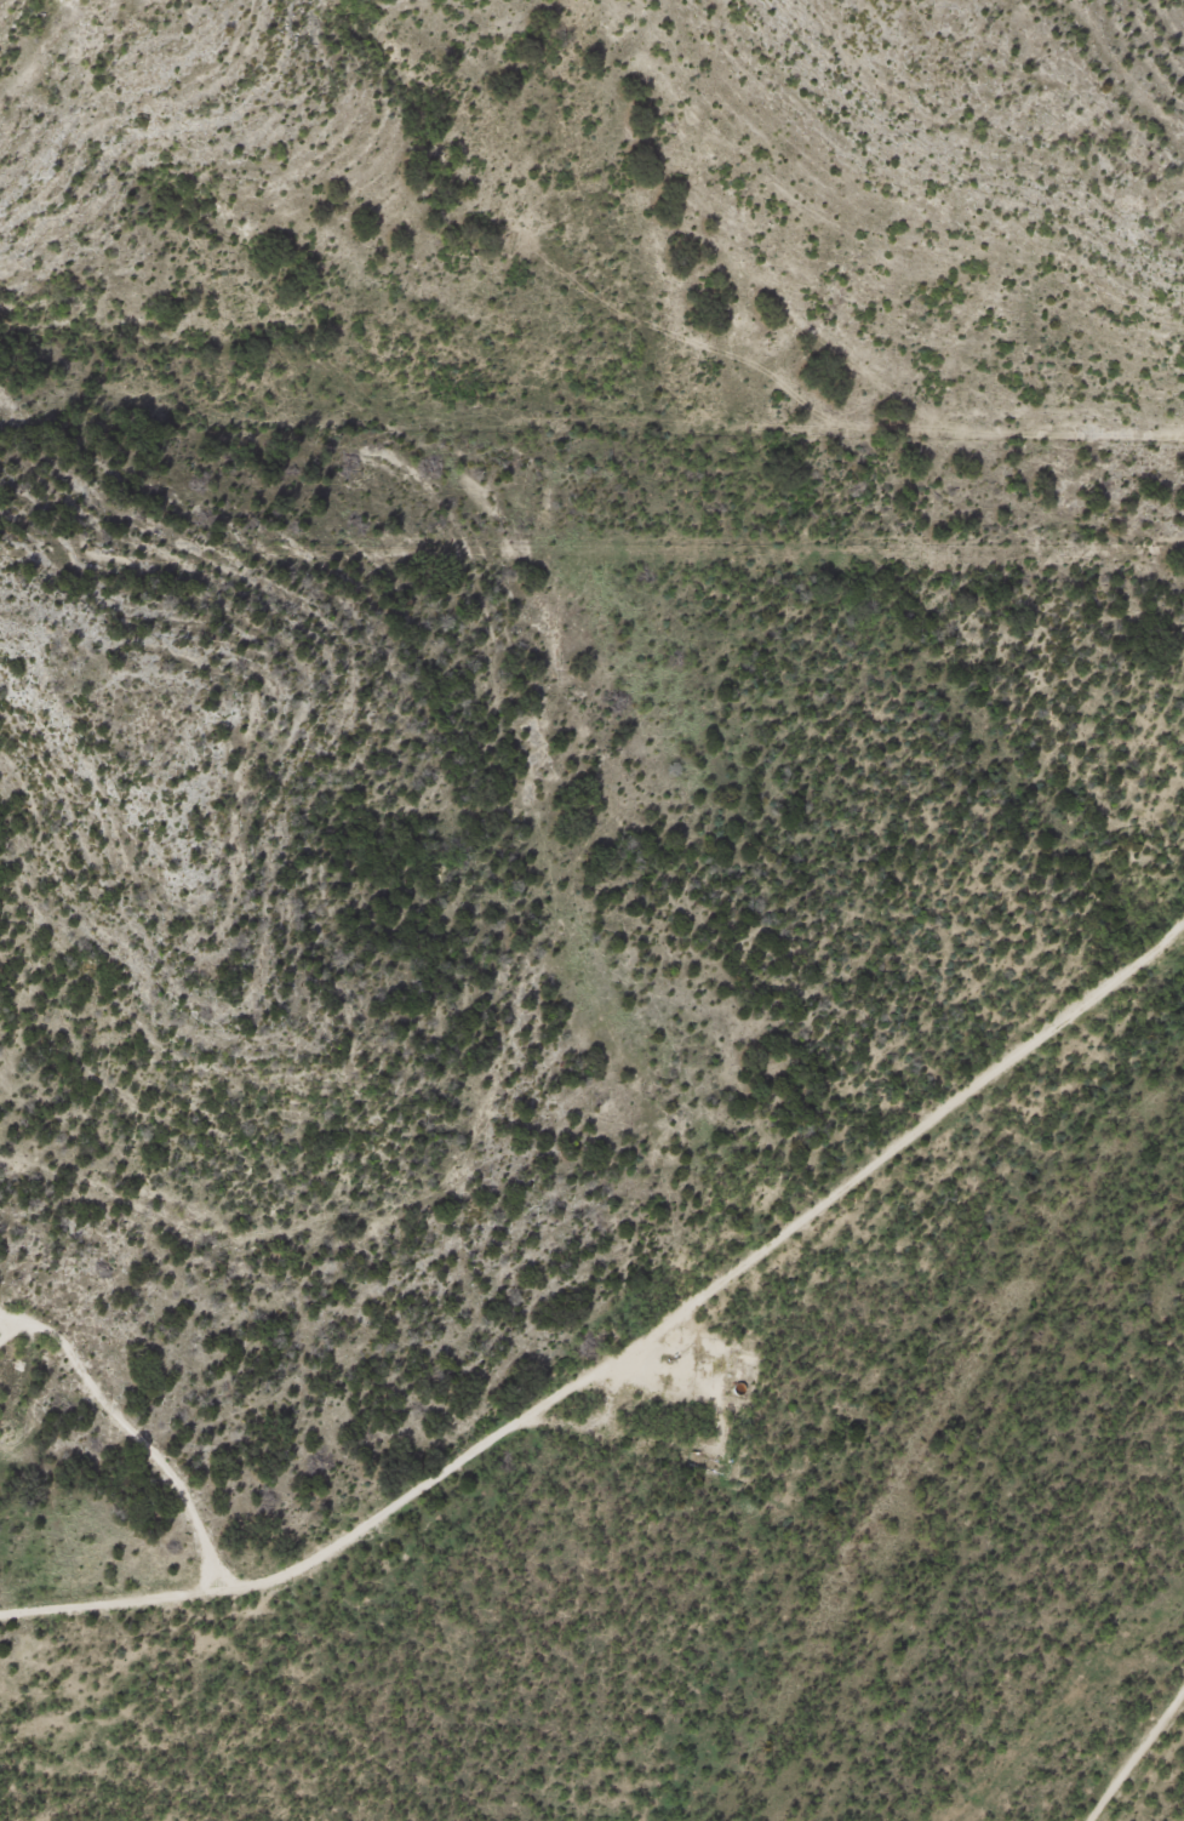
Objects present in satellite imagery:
road: (316, 1543)

